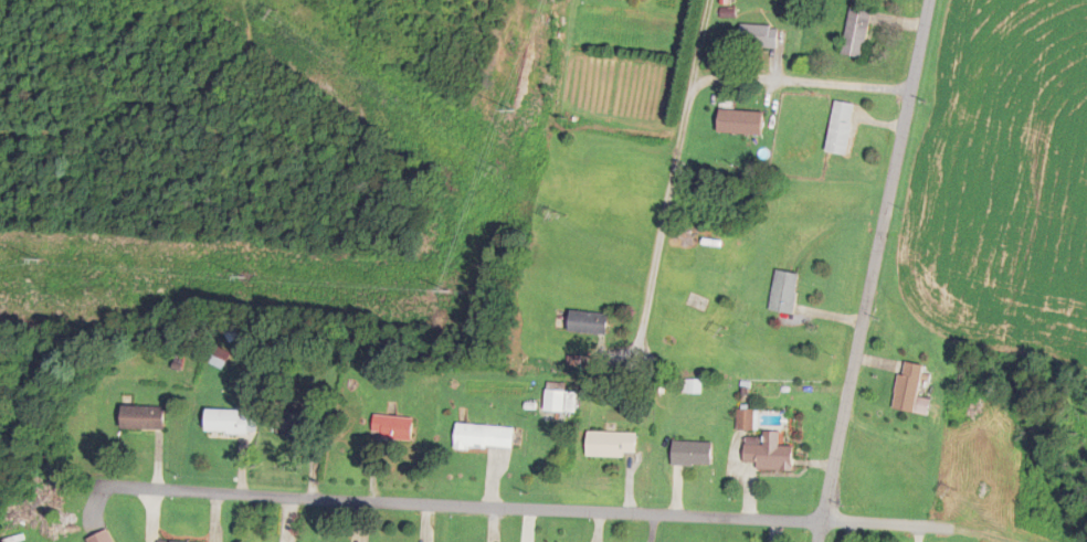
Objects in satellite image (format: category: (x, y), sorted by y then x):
building: (856, 33)
building: (758, 38)
road: (800, 83)
building: (740, 124)
building: (841, 129)
road: (674, 172)
road: (876, 270)
building: (783, 294)
building: (587, 323)
building: (910, 391)
building: (560, 402)
building: (141, 418)
building: (305, 418)
building: (229, 423)
building: (391, 429)
building: (484, 438)
building: (611, 445)
building: (692, 455)
building: (769, 455)
road: (465, 507)
road: (886, 528)
building: (101, 538)

